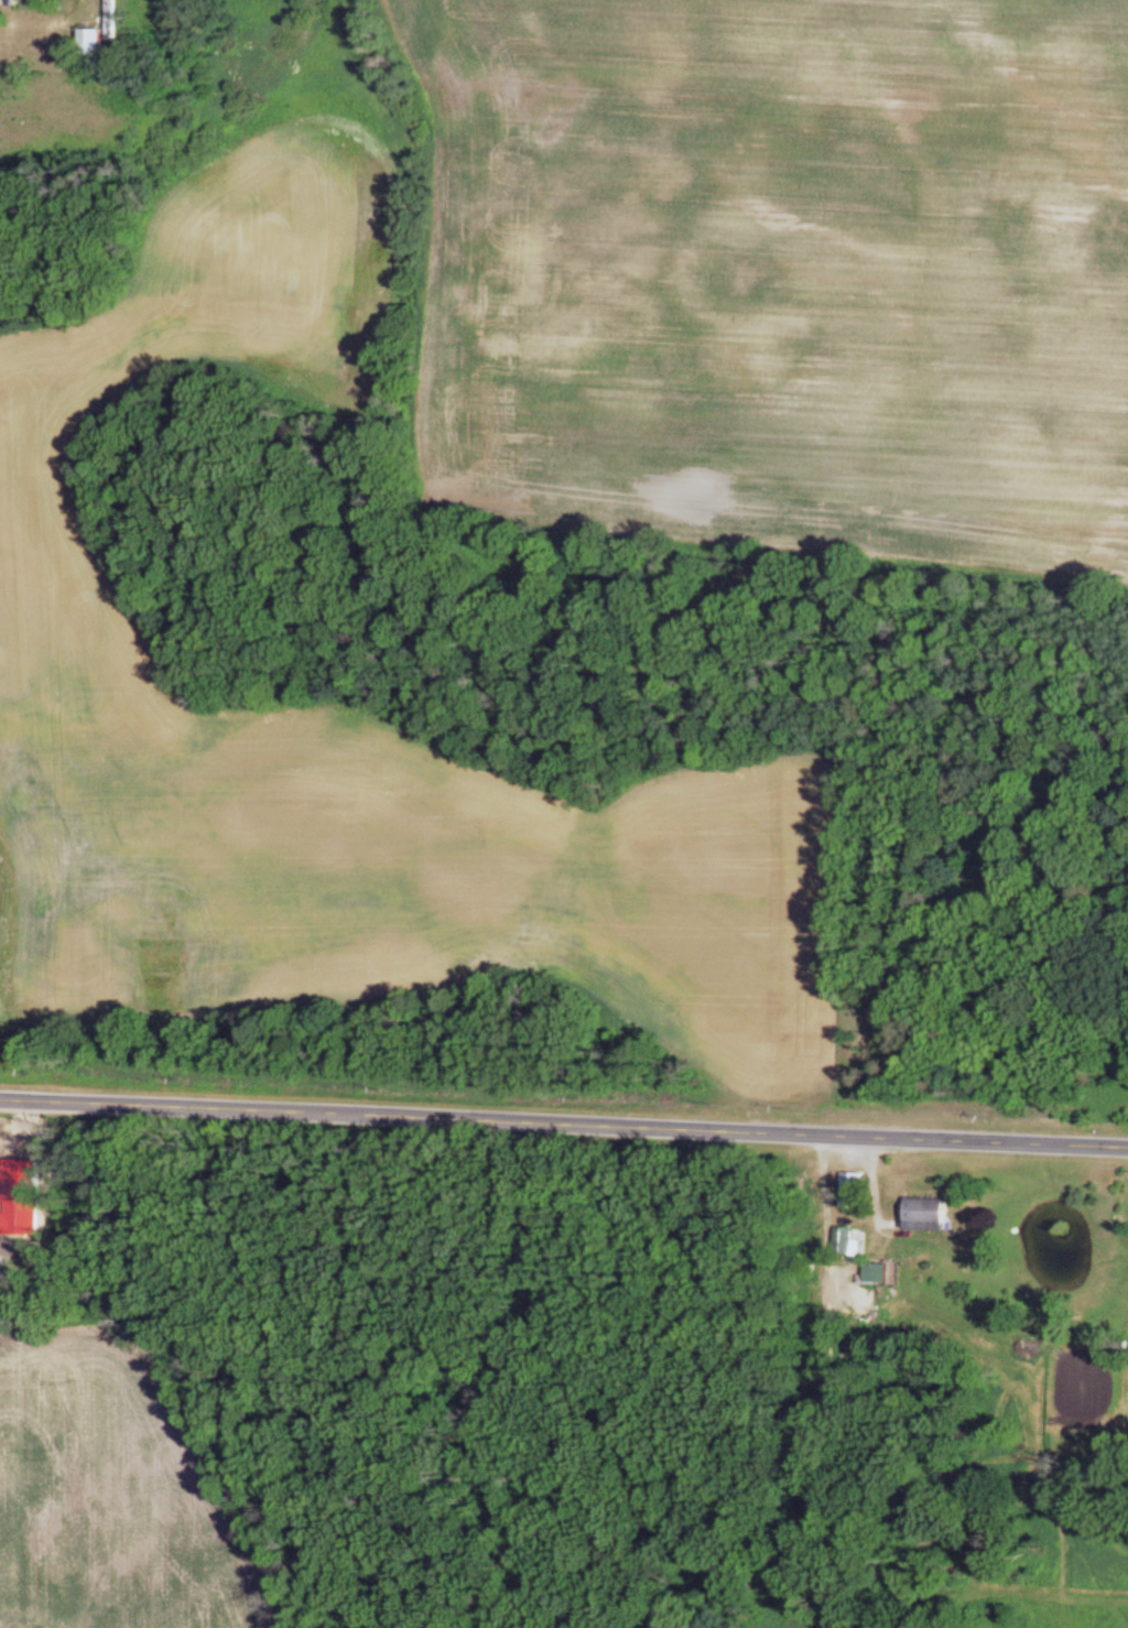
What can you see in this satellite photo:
building: (0, 4)
building: (94, 45)
road: (563, 1126)
building: (857, 1193)
building: (931, 1217)
building: (852, 1244)
building: (878, 1276)

